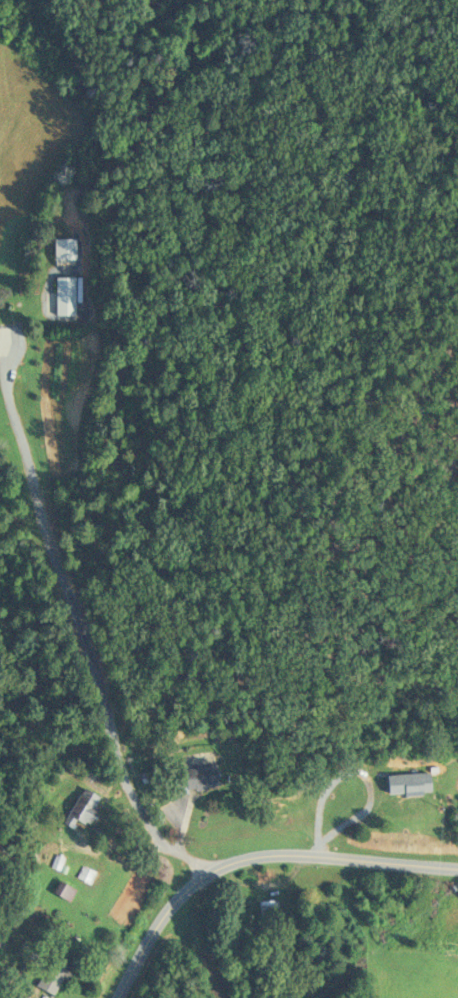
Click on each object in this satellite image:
building: (64, 295)
road: (76, 621)
building: (201, 776)
building: (407, 782)
building: (82, 807)
road: (249, 856)
building: (63, 890)
building: (268, 915)
building: (56, 970)

